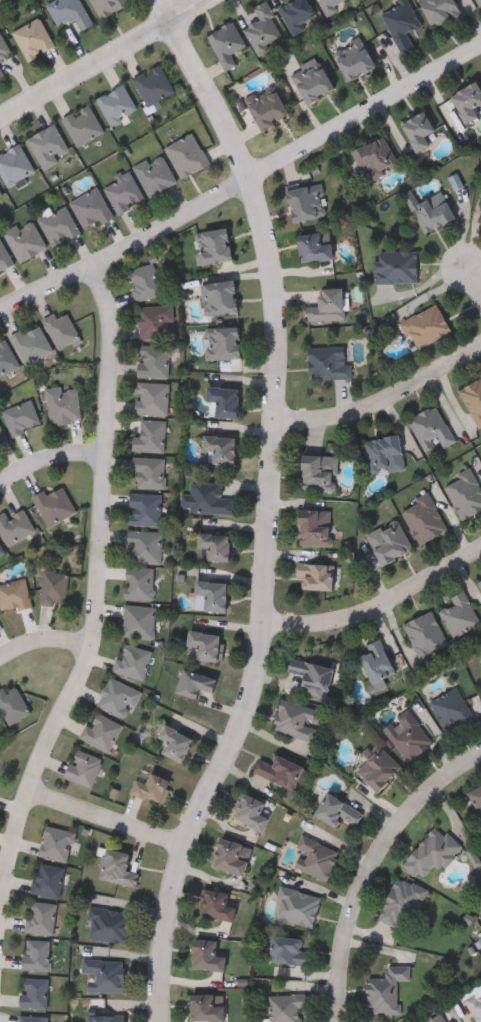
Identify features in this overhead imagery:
building: (478, 2)
building: (330, 4)
building: (107, 6)
building: (68, 12)
building: (440, 12)
building: (297, 13)
building: (401, 24)
building: (263, 29)
building: (33, 38)
building: (226, 43)
building: (3, 48)
road: (99, 57)
building: (353, 58)
building: (1, 72)
building: (313, 83)
building: (153, 84)
building: (467, 100)
building: (116, 104)
building: (266, 109)
building: (82, 124)
building: (417, 129)
building: (48, 145)
building: (187, 154)
building: (375, 157)
building: (14, 164)
building: (155, 173)
road: (240, 179)
building: (124, 191)
building: (0, 193)
building: (307, 201)
building: (91, 207)
building: (430, 209)
building: (480, 218)
building: (480, 222)
building: (59, 224)
building: (25, 239)
building: (214, 245)
building: (314, 245)
building: (3, 256)
building: (395, 266)
road: (474, 280)
building: (145, 281)
building: (220, 296)
building: (327, 304)
building: (156, 321)
building: (425, 326)
building: (62, 329)
building: (224, 342)
building: (31, 343)
building: (6, 358)
building: (155, 361)
building: (328, 362)
building: (152, 397)
building: (473, 398)
building: (224, 400)
road: (384, 402)
building: (64, 404)
building: (21, 416)
building: (431, 427)
building: (2, 435)
building: (151, 436)
building: (220, 449)
building: (384, 452)
road: (49, 454)
building: (150, 472)
building: (319, 472)
building: (464, 492)
building: (209, 497)
building: (55, 504)
road: (270, 508)
building: (146, 509)
building: (423, 517)
building: (15, 525)
building: (314, 526)
building: (388, 540)
building: (216, 545)
building: (146, 546)
building: (1, 548)
building: (1, 553)
building: (315, 574)
building: (141, 582)
building: (480, 583)
road: (97, 585)
building: (55, 588)
building: (14, 594)
building: (212, 595)
road: (376, 602)
building: (460, 614)
building: (139, 620)
building: (426, 635)
road: (44, 639)
building: (206, 645)
building: (133, 660)
building: (377, 663)
building: (311, 676)
building: (195, 682)
building: (120, 697)
building: (14, 703)
building: (452, 708)
building: (0, 718)
building: (297, 720)
building: (0, 721)
building: (103, 731)
building: (408, 735)
building: (176, 742)
building: (84, 767)
building: (378, 768)
building: (283, 772)
building: (153, 788)
building: (476, 798)
building: (337, 811)
building: (252, 813)
road: (109, 821)
building: (57, 842)
building: (433, 852)
building: (232, 857)
building: (316, 858)
building: (118, 867)
road: (370, 867)
building: (49, 879)
building: (402, 901)
building: (219, 904)
building: (297, 906)
building: (42, 916)
building: (109, 924)
building: (290, 950)
building: (37, 954)
building: (207, 955)
building: (106, 973)
building: (386, 989)
building: (35, 991)
building: (474, 1001)
building: (287, 1007)
building: (205, 1008)
building: (34, 1018)
building: (108, 1018)
building: (438, 1018)

